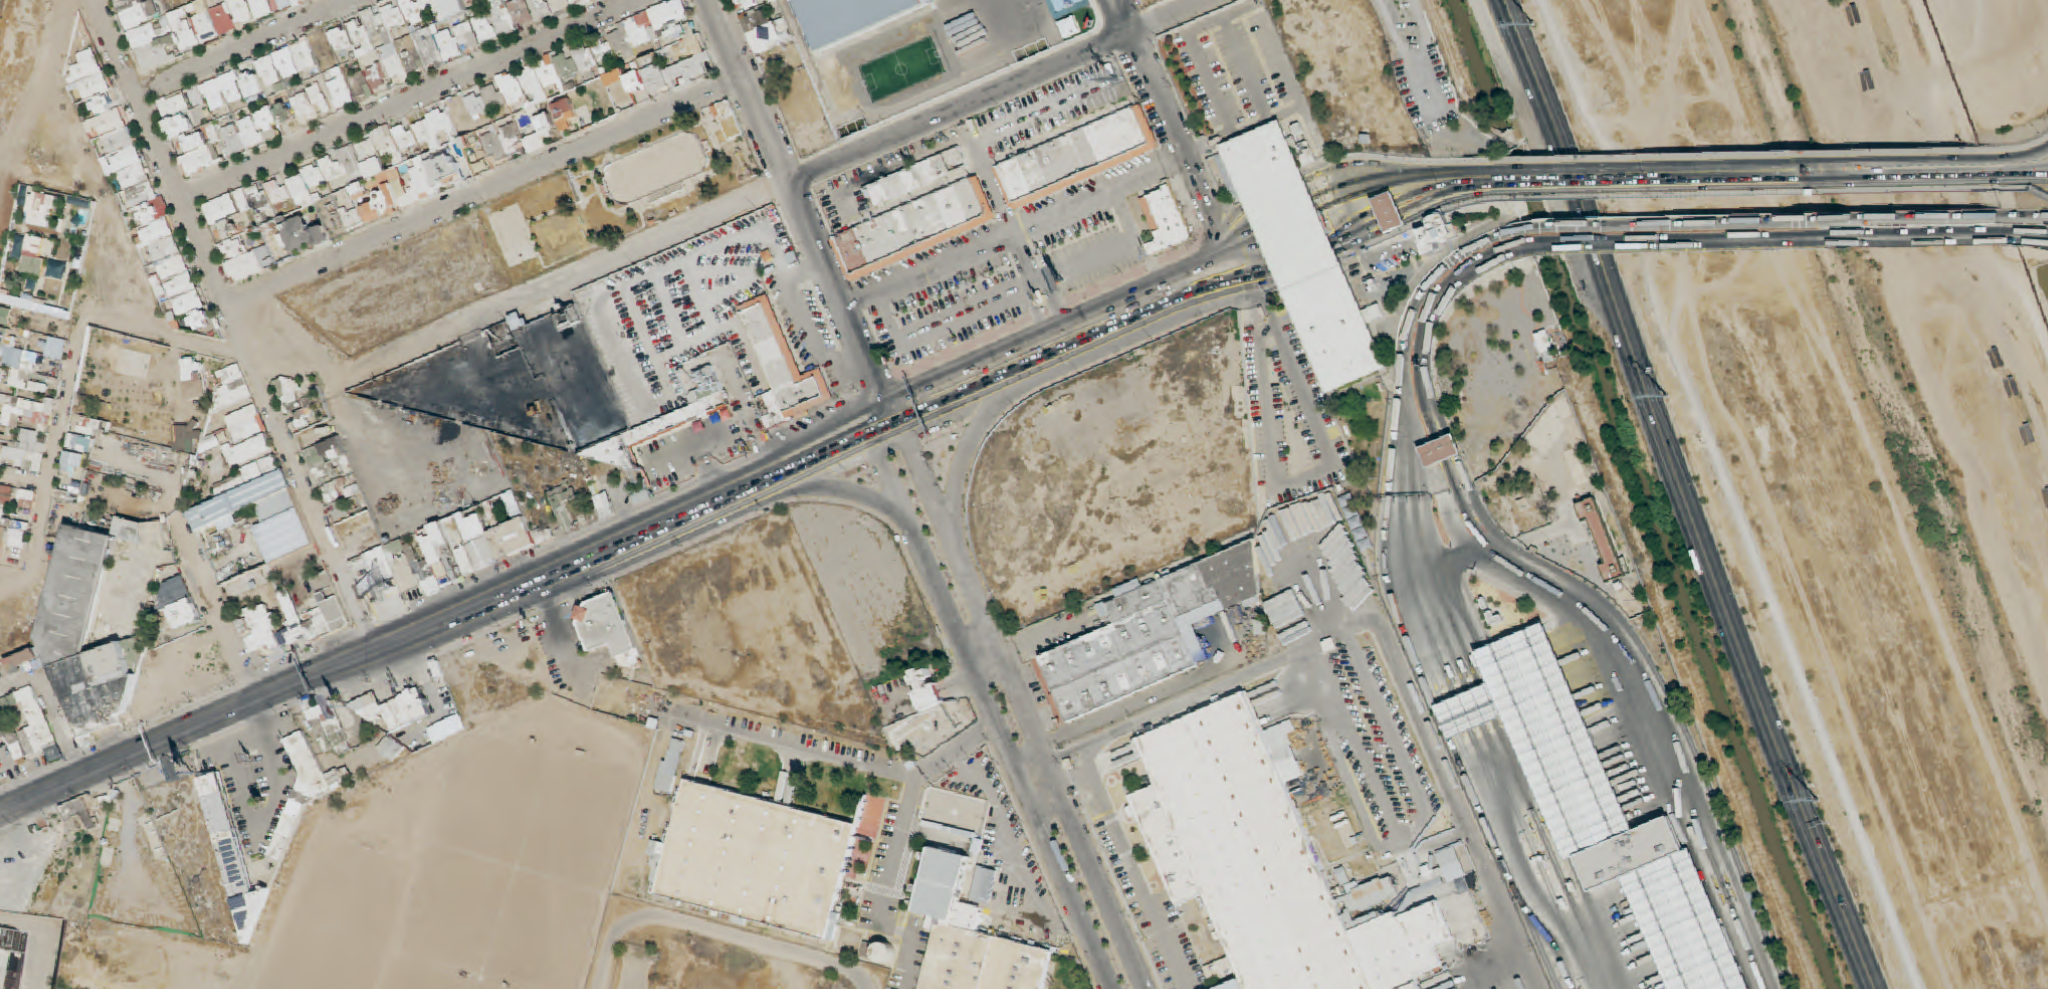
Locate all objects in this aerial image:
road: (1377, 12)
road: (1123, 17)
building: (851, 19)
power tower: (1536, 24)
road: (1198, 50)
road: (1248, 67)
road: (892, 105)
road: (1276, 114)
road: (1380, 119)
road: (1414, 131)
road: (981, 140)
road: (1177, 141)
road: (2013, 151)
building: (1079, 155)
road: (2015, 158)
road: (1638, 160)
road: (1735, 165)
road: (2016, 170)
road: (2016, 173)
road: (2046, 173)
road: (1400, 176)
road: (1544, 178)
road: (1743, 180)
building: (911, 182)
road: (1931, 183)
road: (793, 185)
road: (993, 188)
road: (1275, 189)
road: (2011, 190)
road: (1450, 194)
road: (2039, 194)
road: (1660, 198)
road: (731, 203)
road: (1228, 209)
building: (1389, 212)
road: (1125, 213)
road: (2026, 216)
road: (1391, 217)
toll booth: (1392, 217)
building: (1168, 218)
road: (1287, 219)
toll booth: (1285, 220)
road: (1758, 221)
building: (915, 227)
building: (1436, 233)
road: (1358, 235)
road: (2030, 237)
road: (1766, 240)
building: (1303, 256)
parking lot: (718, 257)
road: (1024, 258)
road: (943, 261)
road: (1306, 262)
toll booth: (1307, 262)
road: (1053, 302)
road: (1257, 302)
road: (1033, 312)
road: (1428, 319)
road: (942, 324)
building: (1545, 346)
road: (1063, 373)
power tower: (1666, 394)
river: (1884, 404)
road: (1431, 423)
road: (1404, 438)
road: (1449, 445)
building: (1439, 449)
road: (1437, 450)
road: (1449, 477)
road: (1302, 482)
road: (1740, 494)
road: (1686, 495)
road: (632, 528)
road: (638, 551)
road: (1465, 553)
road: (1450, 581)
road: (1424, 591)
road: (1410, 595)
road: (1397, 597)
building: (1154, 635)
road: (1384, 642)
road: (1337, 658)
road: (1496, 696)
road: (1641, 696)
road: (1482, 702)
building: (1471, 707)
road: (1472, 707)
road: (1458, 712)
road: (1441, 719)
road: (1395, 739)
road: (1355, 744)
road: (1334, 761)
road: (1495, 767)
building: (1292, 773)
road: (1702, 789)
road: (1515, 794)
power tower: (1817, 797)
road: (1448, 840)
building: (1635, 848)
road: (1562, 851)
road: (1548, 853)
road: (1518, 864)
road: (1503, 865)
building: (1269, 866)
building: (1467, 930)

